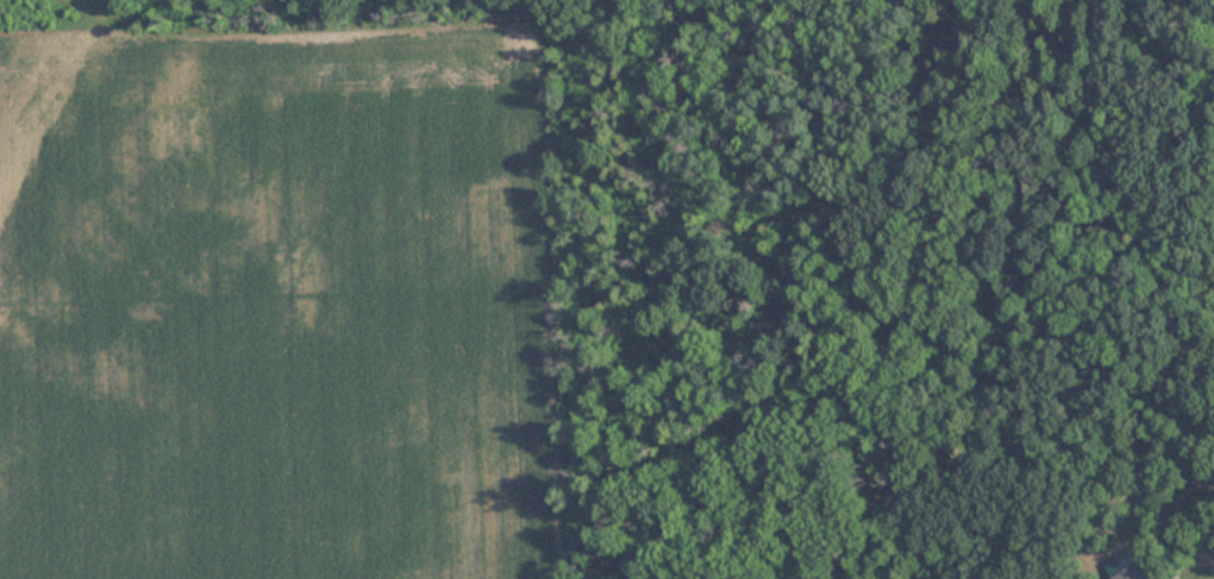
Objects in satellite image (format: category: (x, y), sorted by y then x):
building: (1135, 573)

